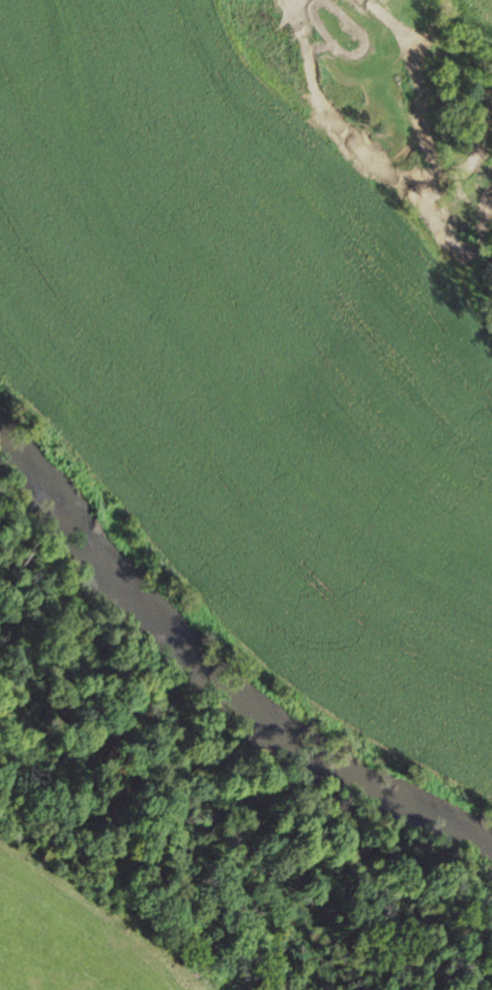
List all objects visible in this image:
river: (216, 678)

